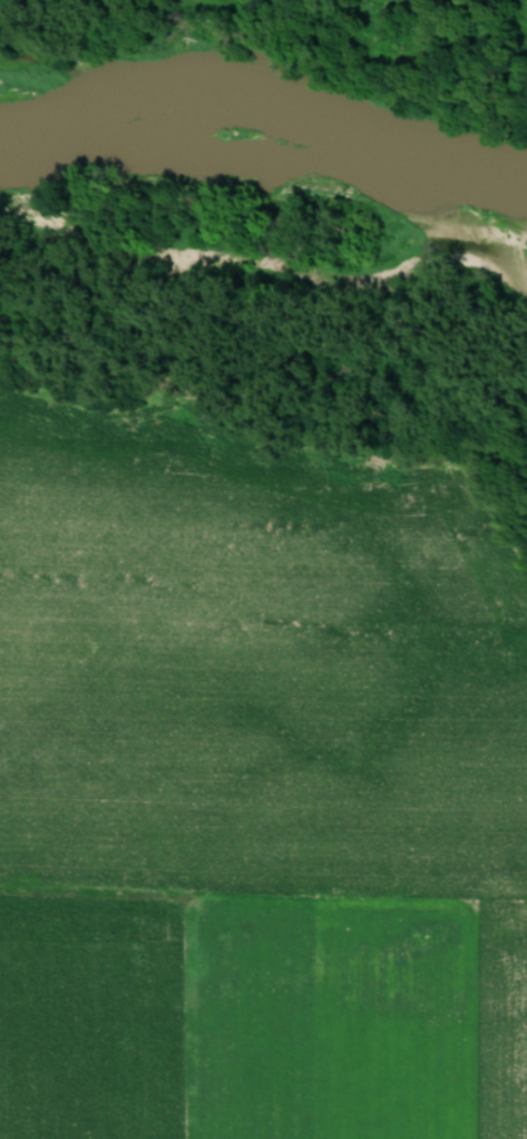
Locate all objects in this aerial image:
river: (267, 148)

